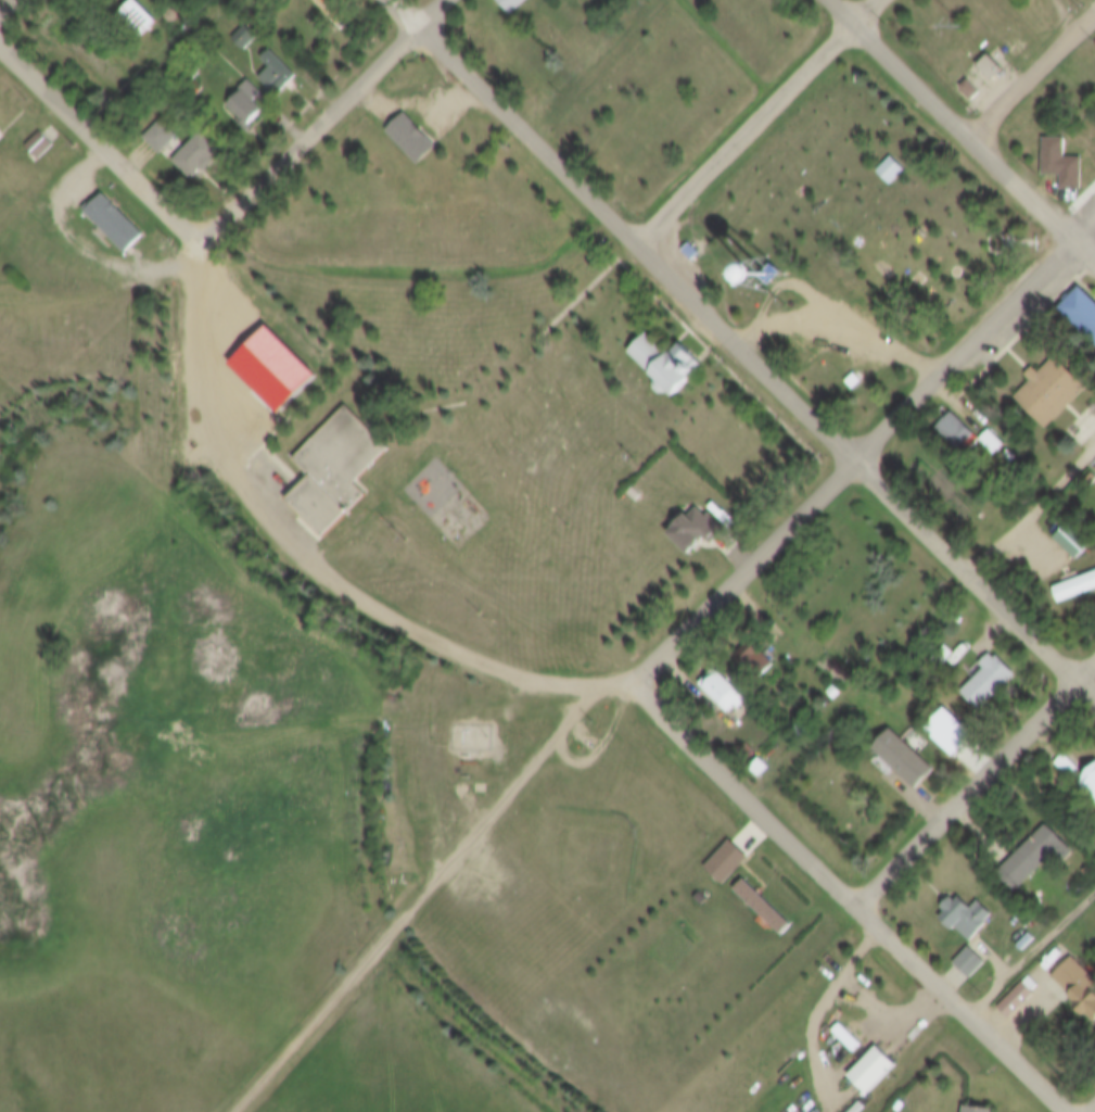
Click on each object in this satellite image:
building: (510, 4)
road: (438, 11)
road: (12, 12)
building: (332, 14)
building: (137, 20)
building: (242, 39)
building: (992, 68)
building: (273, 72)
road: (1034, 86)
building: (971, 91)
building: (247, 104)
road: (761, 124)
road: (959, 132)
road: (316, 135)
building: (157, 138)
building: (415, 140)
building: (36, 148)
road: (102, 149)
building: (196, 156)
building: (1062, 163)
building: (892, 172)
building: (113, 224)
park: (852, 251)
building: (689, 253)
water tower: (768, 281)
building: (1082, 312)
road: (846, 327)
road: (744, 357)
building: (670, 365)
building: (854, 382)
building: (1053, 391)
building: (956, 431)
building: (992, 443)
road: (864, 463)
building: (338, 470)
building: (633, 495)
building: (697, 531)
building: (1075, 541)
road: (314, 568)
building: (1075, 589)
road: (924, 633)
building: (990, 682)
building: (724, 691)
building: (832, 694)
building: (963, 731)
building: (905, 760)
building: (1070, 767)
building: (1093, 776)
road: (977, 791)
building: (1034, 857)
building: (727, 862)
road: (846, 900)
road: (428, 903)
building: (763, 910)
building: (967, 918)
road: (1034, 961)
building: (969, 963)
building: (1079, 983)
building: (1016, 1001)
building: (848, 1039)
building: (875, 1071)
building: (980, 1109)

